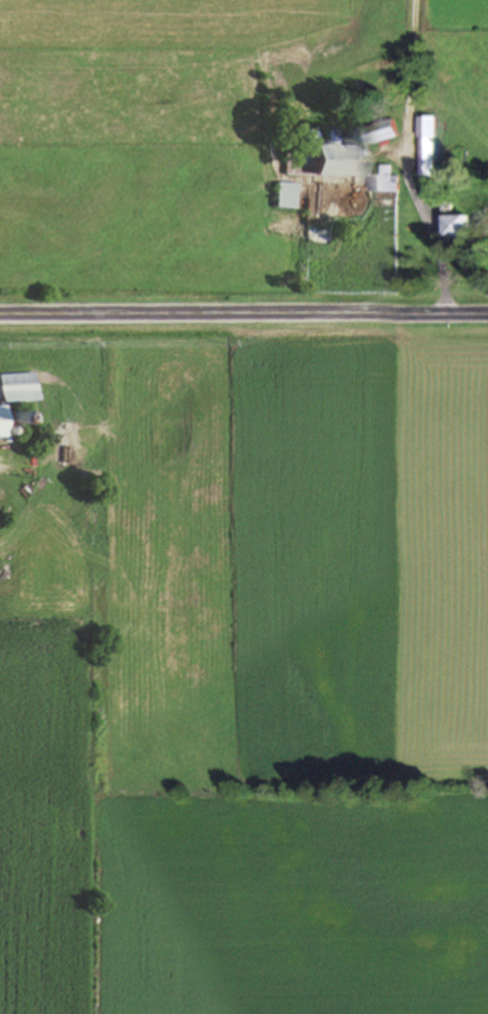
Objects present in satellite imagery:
building: (380, 132)
building: (430, 145)
building: (333, 161)
building: (385, 183)
building: (284, 196)
building: (459, 226)
road: (244, 318)
building: (17, 389)

